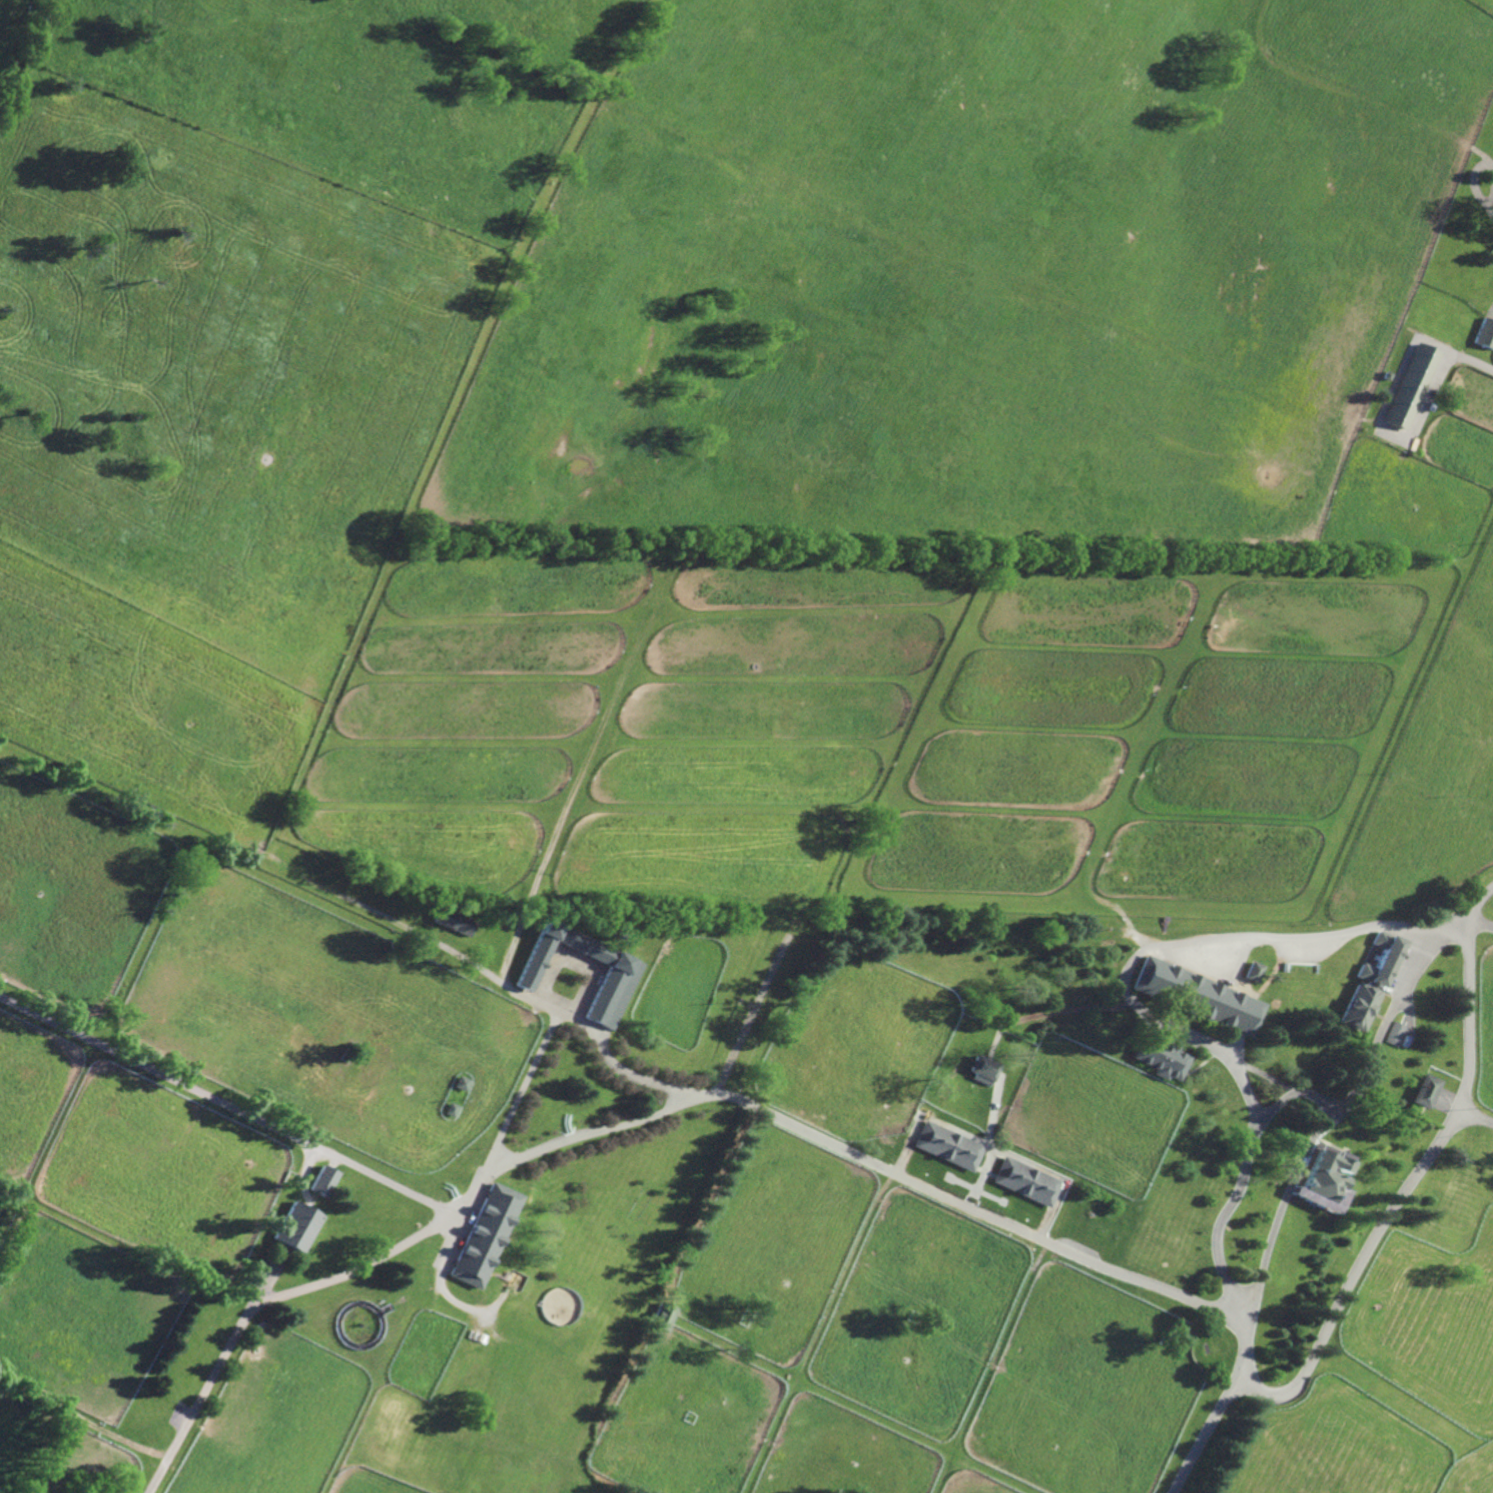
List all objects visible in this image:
building: (1484, 333)
building: (1383, 376)
building: (1408, 386)
road: (521, 919)
building: (452, 920)
road: (1484, 922)
road: (424, 938)
road: (1182, 942)
building: (1377, 958)
building: (1249, 972)
building: (619, 975)
building: (1195, 995)
building: (1356, 1006)
road: (748, 1016)
road: (558, 1018)
building: (1394, 1033)
building: (1159, 1057)
building: (982, 1069)
building: (459, 1083)
building: (1423, 1090)
road: (225, 1103)
building: (448, 1109)
road: (642, 1116)
road: (1478, 1117)
road: (1317, 1134)
building: (947, 1146)
road: (1244, 1167)
building: (1322, 1175)
building: (320, 1180)
building: (1026, 1180)
building: (294, 1225)
building: (482, 1233)
road: (1380, 1242)
road: (263, 1283)
road: (440, 1291)
building: (662, 1315)

